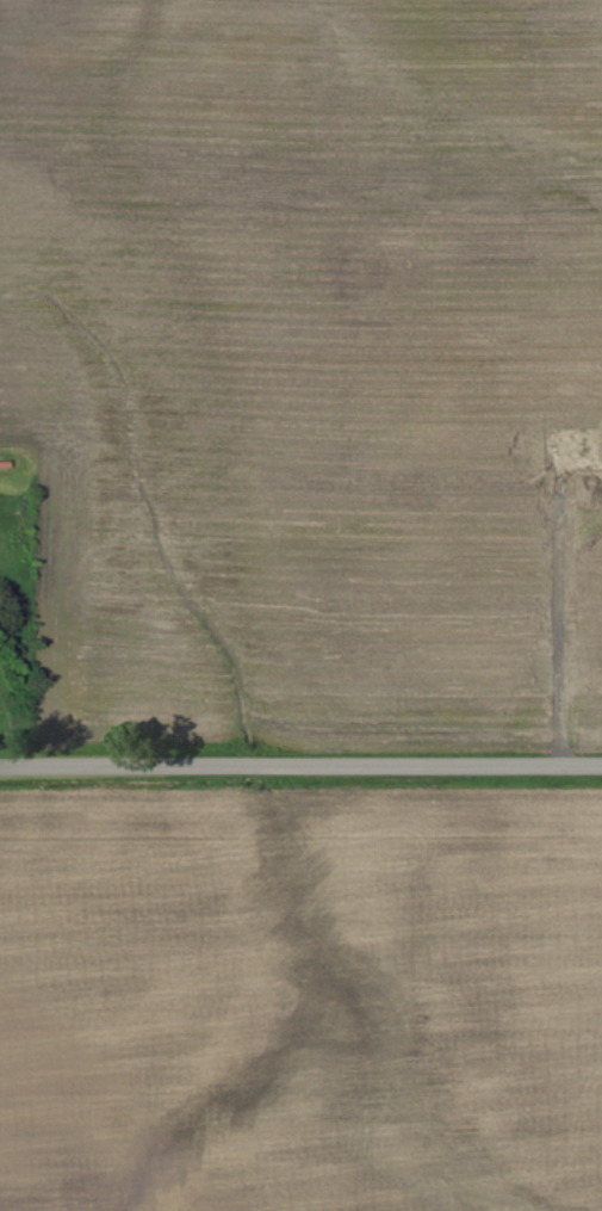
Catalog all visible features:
road: (300, 767)

